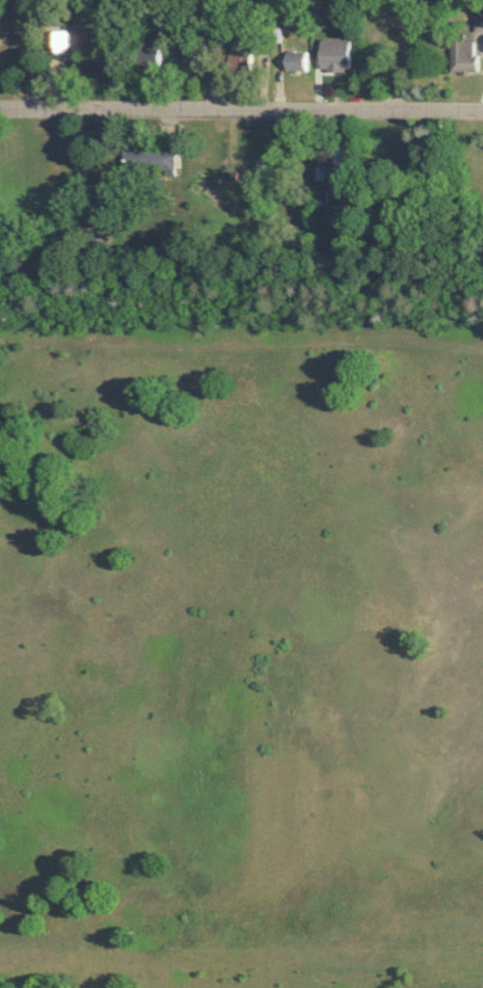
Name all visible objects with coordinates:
building: (23, 18)
building: (478, 18)
building: (59, 38)
building: (152, 53)
building: (336, 53)
building: (195, 56)
building: (464, 56)
building: (297, 59)
building: (241, 60)
road: (241, 112)
building: (342, 160)
building: (149, 161)

